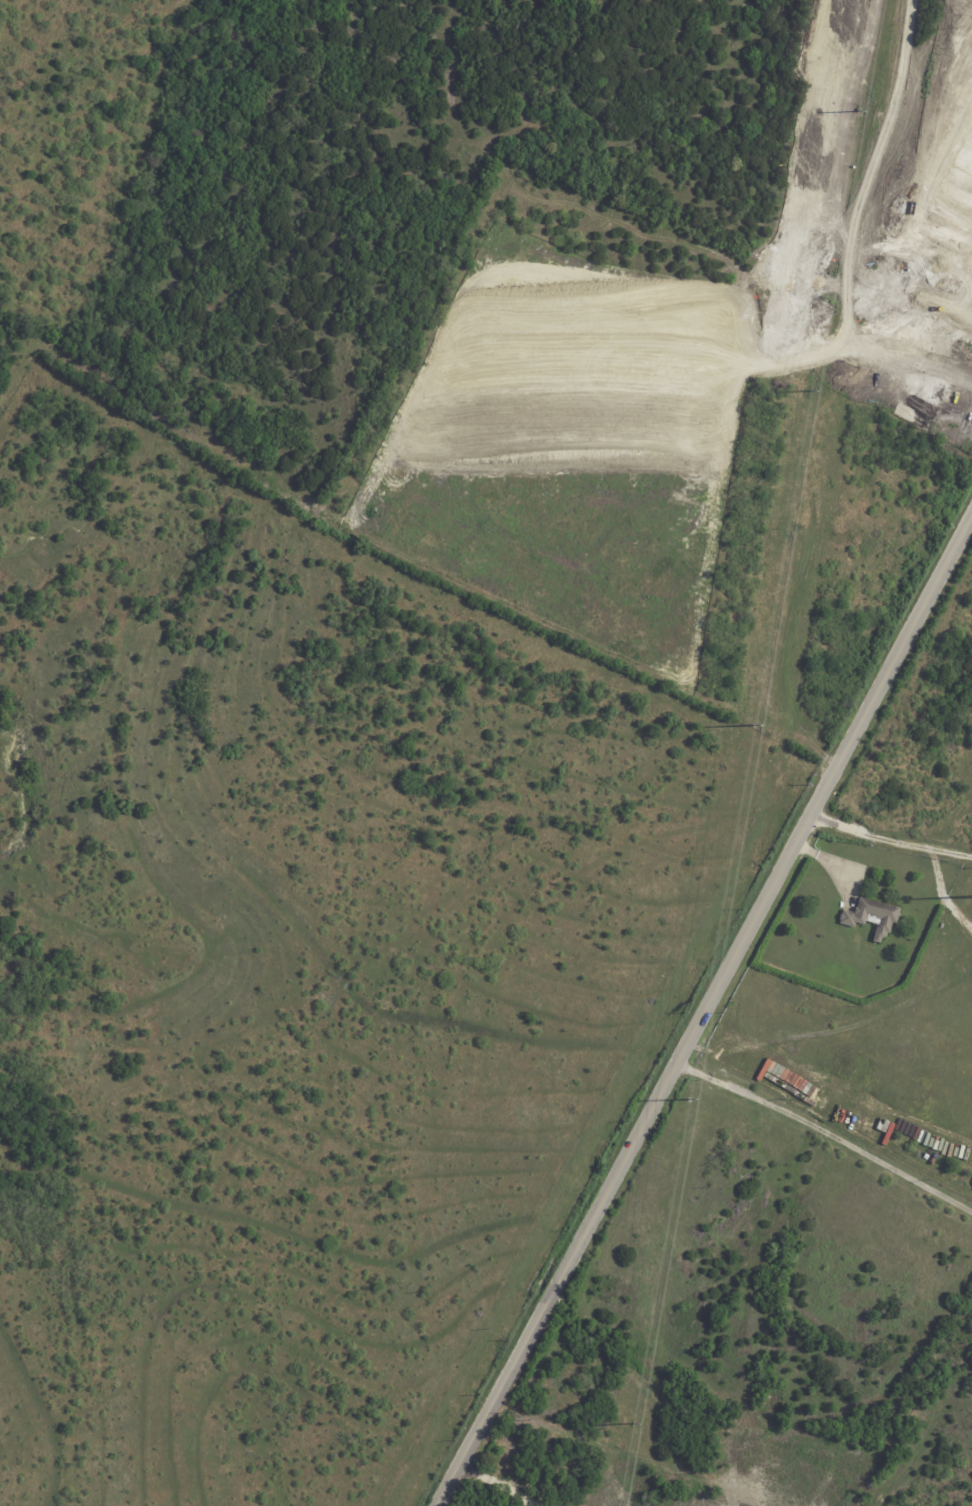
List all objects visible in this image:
road: (953, 303)
road: (969, 303)
road: (889, 839)
road: (834, 864)
building: (873, 917)
road: (703, 1009)
road: (826, 1130)
road: (487, 1476)

